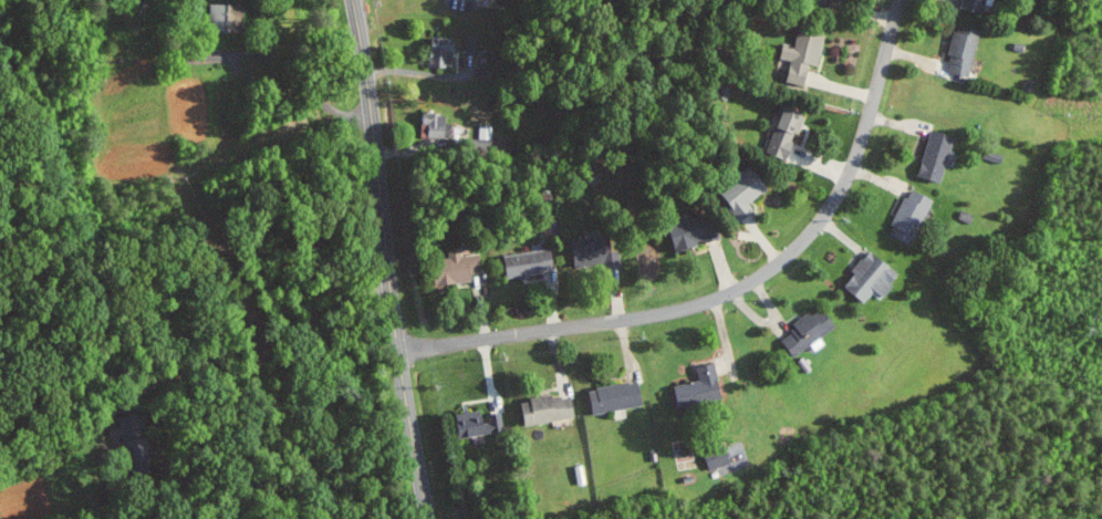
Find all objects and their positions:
building: (977, 4)
building: (227, 12)
building: (472, 42)
building: (965, 50)
building: (444, 51)
building: (804, 55)
road: (290, 72)
road: (424, 73)
building: (437, 126)
building: (486, 131)
building: (789, 131)
building: (939, 155)
building: (748, 190)
building: (913, 215)
building: (697, 231)
road: (393, 259)
building: (531, 262)
building: (454, 269)
building: (873, 277)
road: (738, 284)
road: (771, 321)
building: (811, 329)
road: (262, 339)
building: (701, 388)
building: (617, 396)
building: (550, 408)
building: (480, 423)
building: (131, 437)
building: (718, 457)

